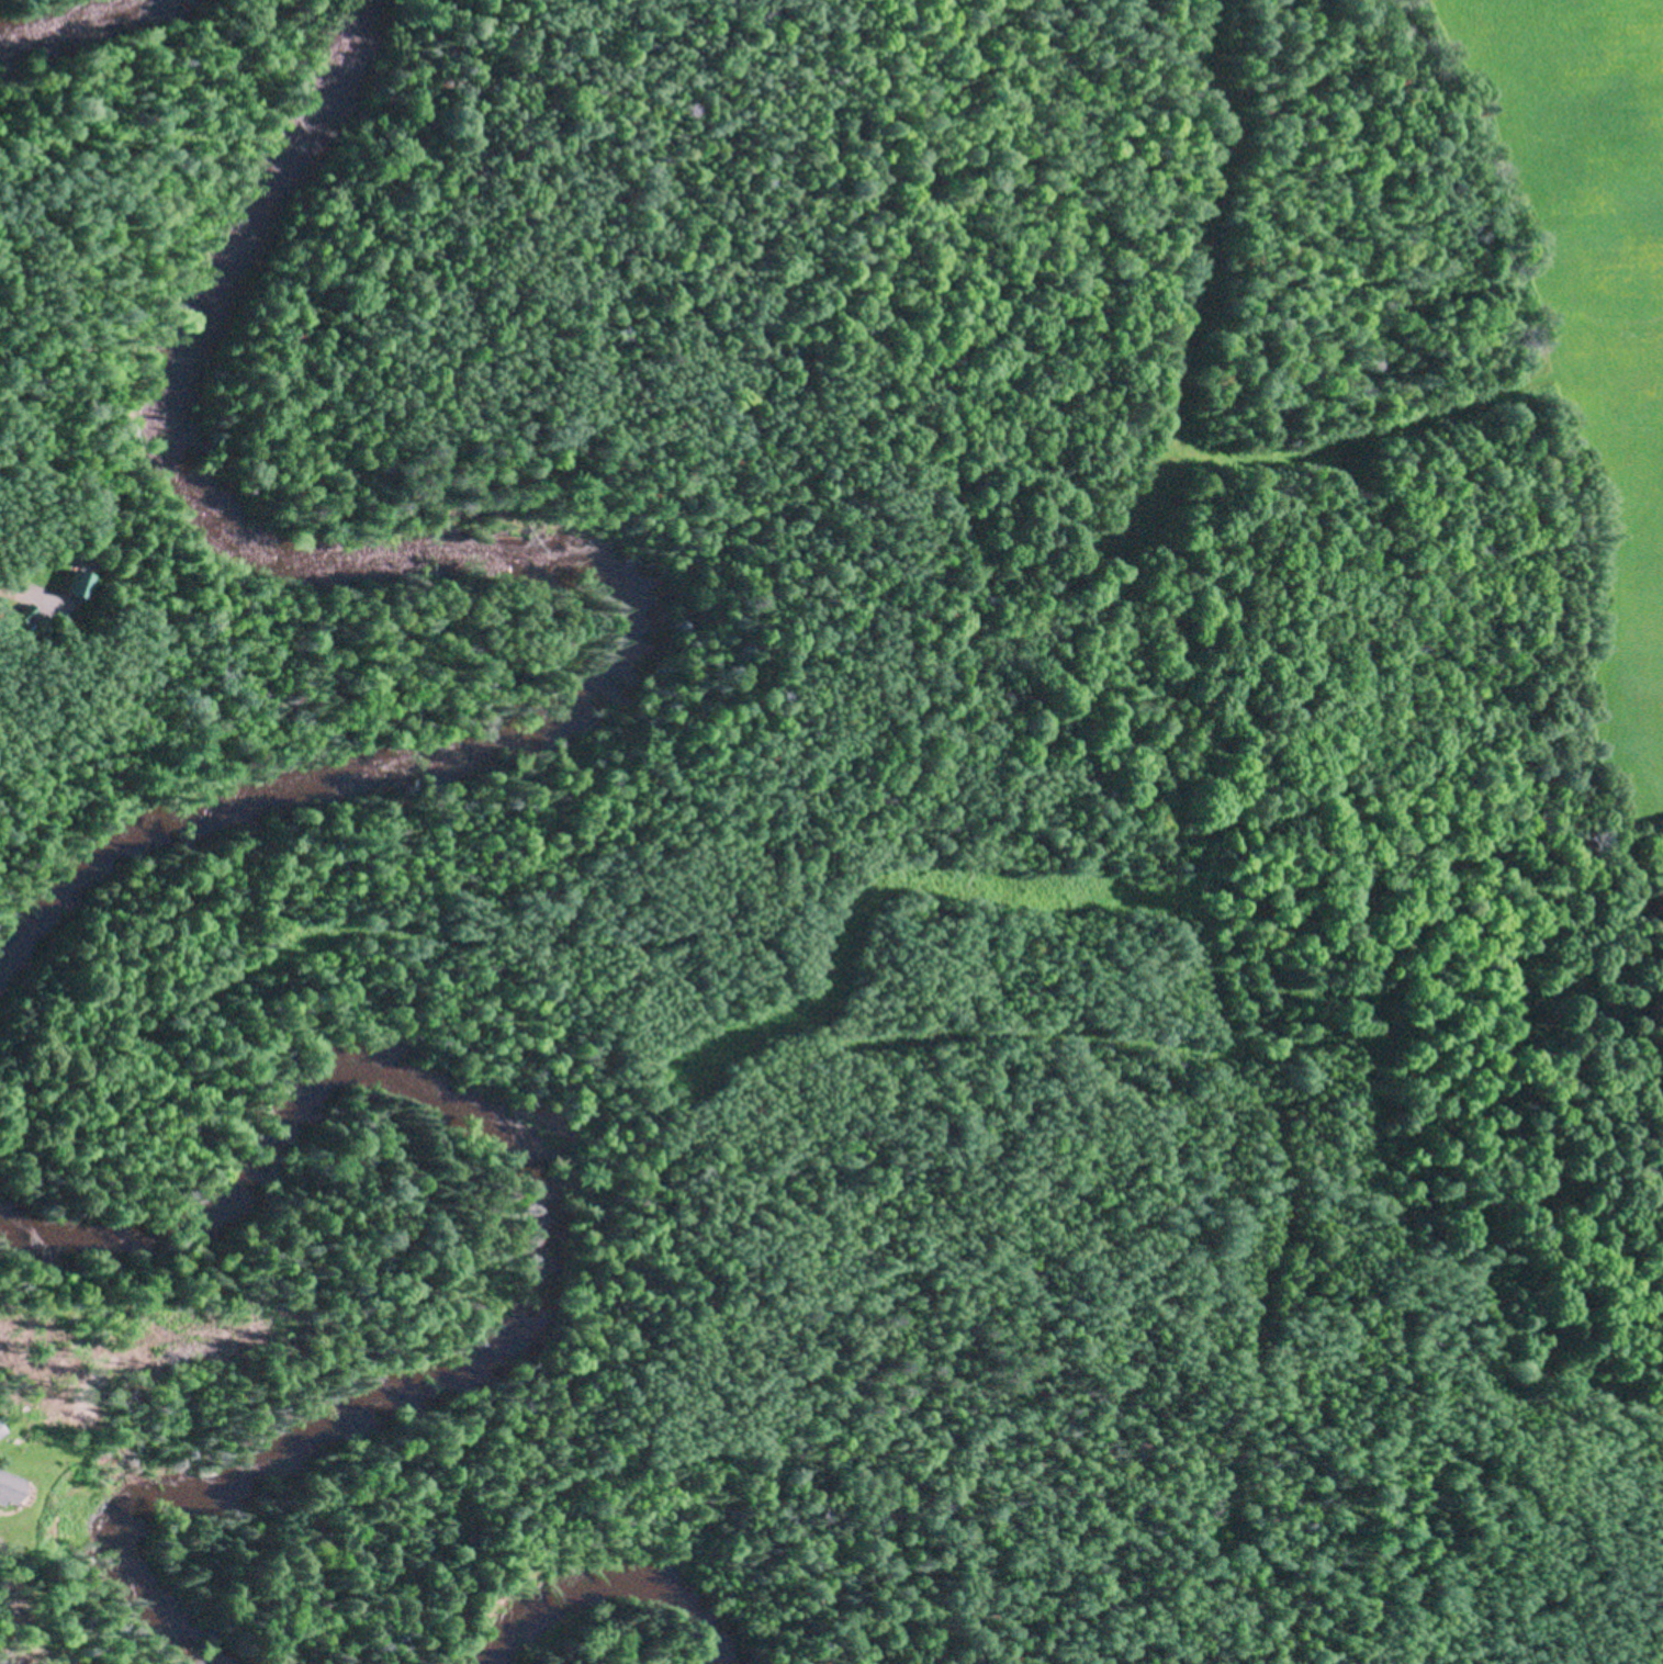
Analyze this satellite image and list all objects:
river: (58, 18)
river: (485, 571)
building: (80, 582)
building: (31, 612)
building: (49, 627)
river: (544, 1245)
building: (2, 1427)
building: (10, 1487)
river: (607, 1592)

